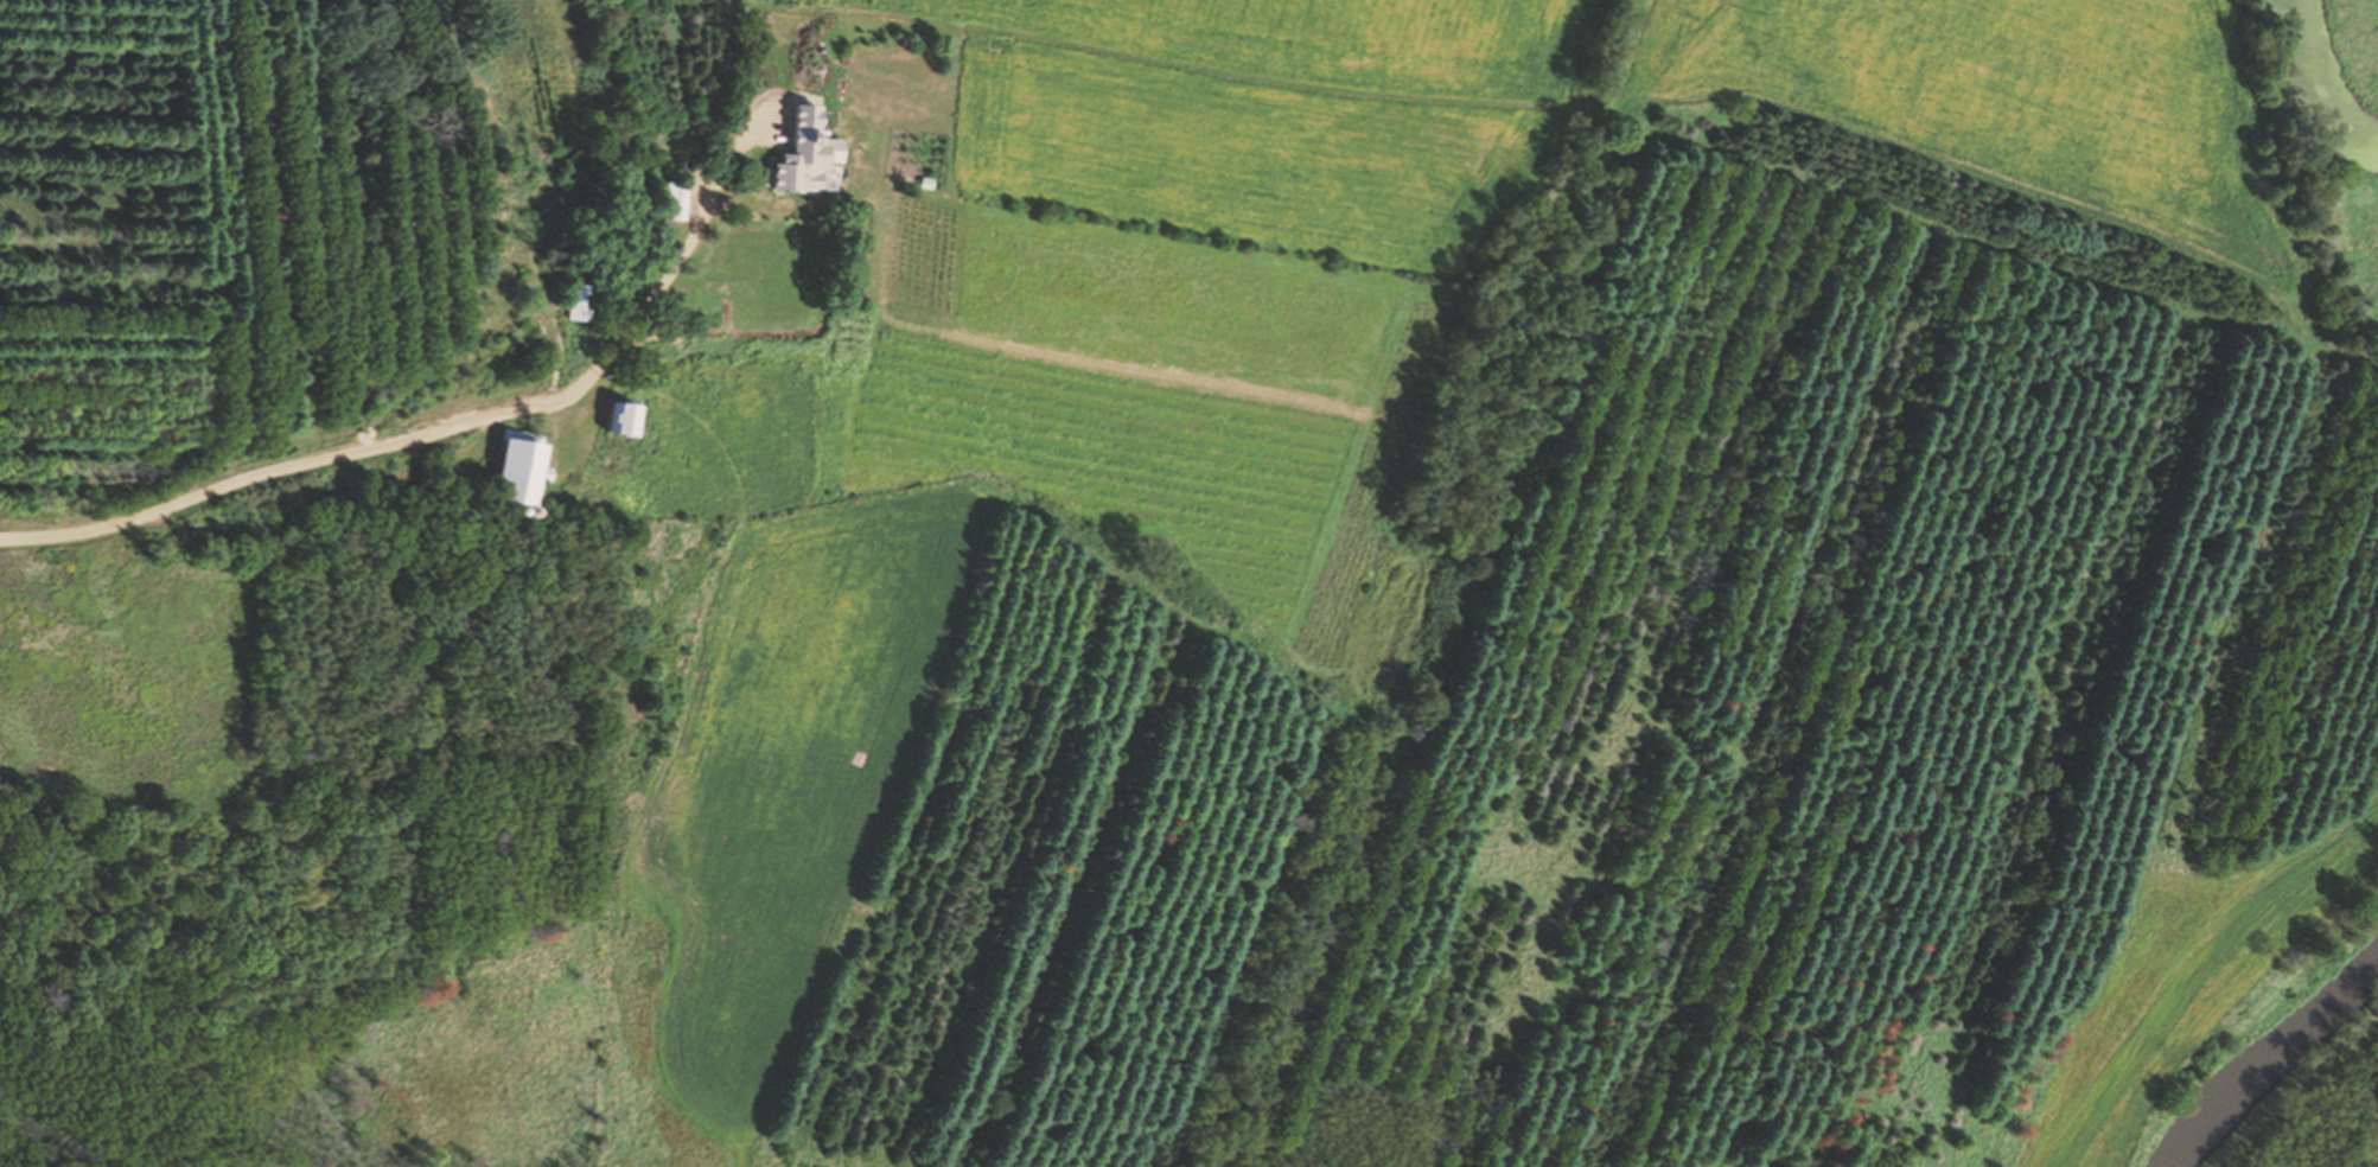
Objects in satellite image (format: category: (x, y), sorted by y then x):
building: (795, 154)
building: (669, 200)
building: (484, 222)
building: (568, 302)
road: (594, 363)
building: (607, 421)
building: (501, 473)
road: (155, 511)
river: (2265, 1063)

